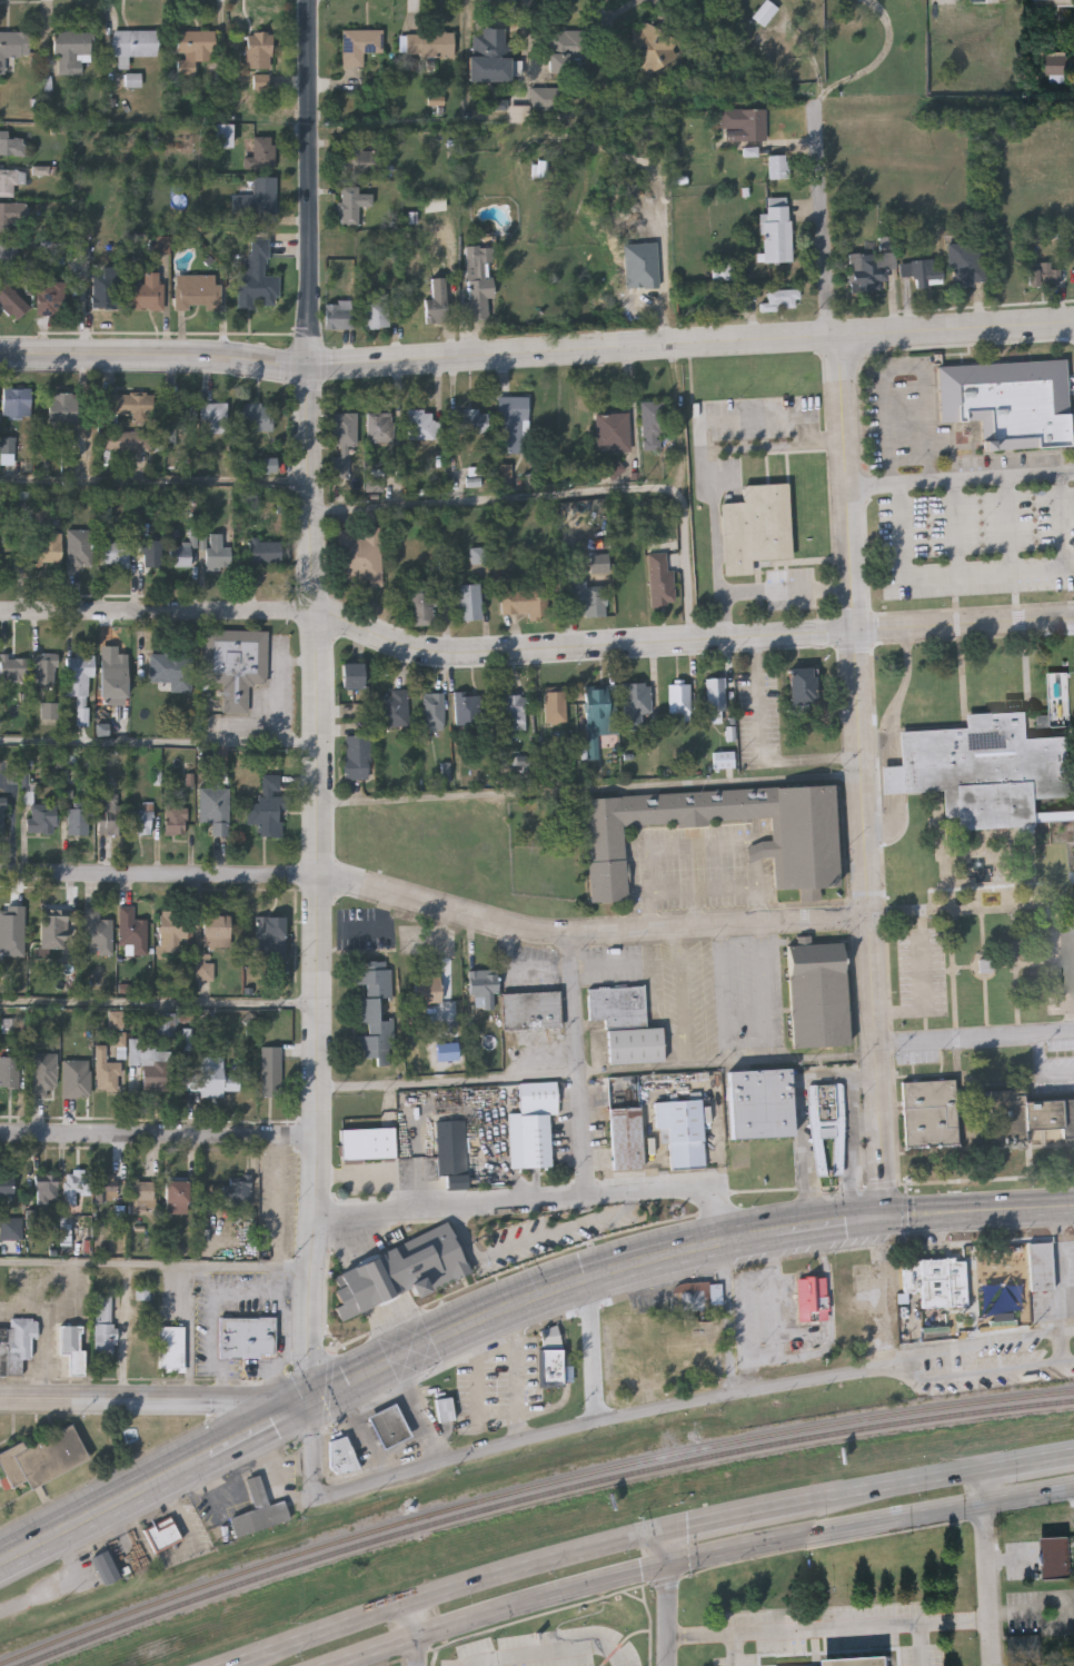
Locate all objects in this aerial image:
building: (1054, 0)
building: (978, 1)
building: (765, 12)
building: (429, 43)
building: (12, 44)
building: (132, 44)
building: (359, 44)
building: (193, 49)
building: (653, 49)
building: (72, 50)
building: (258, 50)
building: (567, 51)
building: (491, 52)
building: (1055, 61)
building: (132, 80)
building: (261, 81)
building: (541, 97)
building: (745, 122)
building: (11, 143)
building: (263, 152)
building: (359, 157)
building: (777, 166)
building: (10, 180)
building: (257, 198)
building: (351, 204)
building: (12, 216)
road: (823, 222)
building: (776, 230)
building: (8, 250)
building: (967, 264)
building: (869, 270)
building: (923, 271)
building: (1044, 275)
building: (257, 277)
building: (477, 282)
building: (106, 287)
building: (197, 290)
building: (147, 291)
building: (50, 296)
building: (782, 299)
building: (12, 300)
building: (436, 301)
building: (377, 311)
building: (338, 315)
road: (536, 351)
road: (906, 365)
building: (17, 401)
building: (1010, 404)
building: (128, 405)
building: (63, 406)
building: (180, 413)
building: (216, 415)
building: (256, 416)
road: (746, 418)
building: (468, 422)
building: (420, 424)
building: (511, 425)
building: (652, 426)
building: (379, 427)
building: (344, 429)
building: (613, 433)
road: (311, 438)
road: (713, 467)
building: (504, 479)
road: (957, 480)
road: (156, 482)
road: (569, 494)
parking lot: (962, 502)
road: (1010, 526)
building: (755, 527)
road: (956, 529)
building: (46, 548)
building: (80, 548)
building: (218, 552)
building: (115, 553)
building: (265, 553)
building: (151, 554)
building: (182, 556)
building: (359, 557)
road: (984, 576)
building: (659, 579)
road: (766, 591)
building: (585, 596)
building: (425, 602)
building: (525, 602)
building: (468, 603)
road: (1016, 614)
road: (957, 619)
road: (534, 654)
building: (235, 664)
building: (44, 670)
building: (13, 672)
building: (113, 672)
building: (171, 672)
building: (351, 676)
building: (79, 684)
building: (803, 686)
building: (716, 700)
building: (679, 701)
building: (635, 704)
building: (555, 708)
building: (394, 711)
building: (509, 711)
building: (432, 712)
building: (468, 712)
building: (597, 713)
road: (885, 738)
road: (161, 744)
road: (764, 748)
building: (356, 758)
building: (983, 768)
road: (858, 776)
road: (897, 790)
road: (590, 791)
building: (268, 807)
building: (215, 810)
building: (2, 814)
building: (41, 819)
building: (110, 819)
building: (176, 819)
building: (78, 822)
building: (141, 822)
building: (798, 842)
fountain: (981, 869)
road: (160, 876)
road: (976, 885)
road: (706, 889)
road: (976, 898)
road: (982, 906)
park: (987, 914)
building: (2, 925)
road: (380, 925)
building: (53, 929)
building: (98, 931)
building: (132, 931)
building: (171, 931)
building: (216, 931)
road: (983, 931)
building: (270, 938)
road: (589, 938)
road: (1015, 955)
road: (995, 963)
road: (1021, 963)
road: (963, 966)
parking lot: (1060, 971)
parking lot: (922, 976)
road: (1068, 981)
building: (427, 989)
building: (483, 989)
building: (817, 996)
road: (922, 999)
road: (987, 1002)
road: (160, 1004)
building: (374, 1011)
building: (530, 1011)
building: (626, 1024)
road: (974, 1040)
building: (152, 1063)
road: (576, 1068)
road: (1041, 1068)
building: (270, 1070)
building: (9, 1071)
building: (108, 1072)
building: (43, 1073)
road: (597, 1073)
parking lot: (1054, 1075)
building: (77, 1077)
building: (211, 1081)
building: (447, 1101)
building: (759, 1104)
building: (931, 1113)
road: (799, 1115)
building: (1026, 1117)
building: (536, 1123)
building: (827, 1124)
building: (683, 1132)
road: (159, 1133)
building: (626, 1138)
road: (319, 1140)
building: (367, 1144)
building: (451, 1152)
road: (372, 1177)
building: (76, 1183)
road: (935, 1184)
building: (7, 1186)
building: (46, 1190)
road: (675, 1191)
building: (233, 1193)
building: (106, 1194)
building: (140, 1197)
building: (176, 1198)
road: (451, 1207)
road: (973, 1209)
road: (978, 1211)
building: (627, 1218)
traffic signals: (884, 1218)
road: (834, 1222)
building: (558, 1228)
building: (10, 1229)
building: (500, 1242)
road: (158, 1266)
building: (1041, 1269)
building: (401, 1271)
road: (1061, 1271)
building: (1005, 1279)
building: (936, 1283)
road: (540, 1290)
road: (887, 1295)
building: (690, 1296)
building: (812, 1299)
road: (215, 1308)
road: (730, 1319)
road: (284, 1323)
building: (103, 1328)
road: (47, 1332)
road: (190, 1332)
road: (127, 1333)
building: (246, 1339)
building: (141, 1342)
building: (16, 1346)
road: (977, 1346)
building: (71, 1347)
building: (170, 1348)
road: (591, 1349)
building: (556, 1356)
road: (280, 1360)
road: (310, 1362)
parking lot: (1000, 1367)
road: (230, 1371)
road: (976, 1374)
road: (271, 1379)
road: (330, 1391)
road: (233, 1401)
road: (157, 1402)
traffic signals: (315, 1402)
road: (382, 1406)
building: (442, 1410)
road: (417, 1412)
building: (387, 1426)
road: (262, 1428)
road: (366, 1434)
road: (547, 1437)
road: (405, 1448)
building: (340, 1455)
building: (41, 1459)
railway: (527, 1489)
railway: (539, 1497)
road: (105, 1508)
building: (259, 1513)
traffic signals: (667, 1533)
building: (163, 1535)
road: (653, 1536)
building: (1056, 1558)
road: (698, 1560)
traffic signals: (667, 1567)
road: (983, 1567)
building: (105, 1568)
road: (67, 1587)
road: (667, 1599)
road: (826, 1629)
parking lot: (819, 1630)
road: (420, 1634)
building: (1025, 1649)
road: (549, 1653)
parking lot: (922, 1656)
building: (857, 1660)

